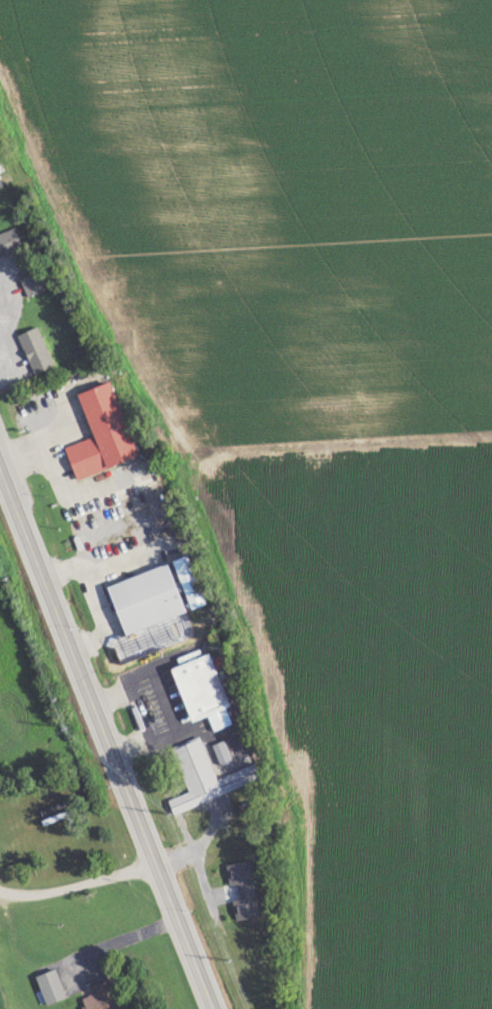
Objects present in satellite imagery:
building: (1, 184)
building: (10, 243)
building: (33, 284)
building: (37, 351)
building: (104, 434)
building: (192, 583)
building: (149, 600)
building: (206, 692)
road: (107, 737)
building: (223, 753)
building: (208, 777)
building: (245, 891)
building: (52, 988)
building: (103, 997)

